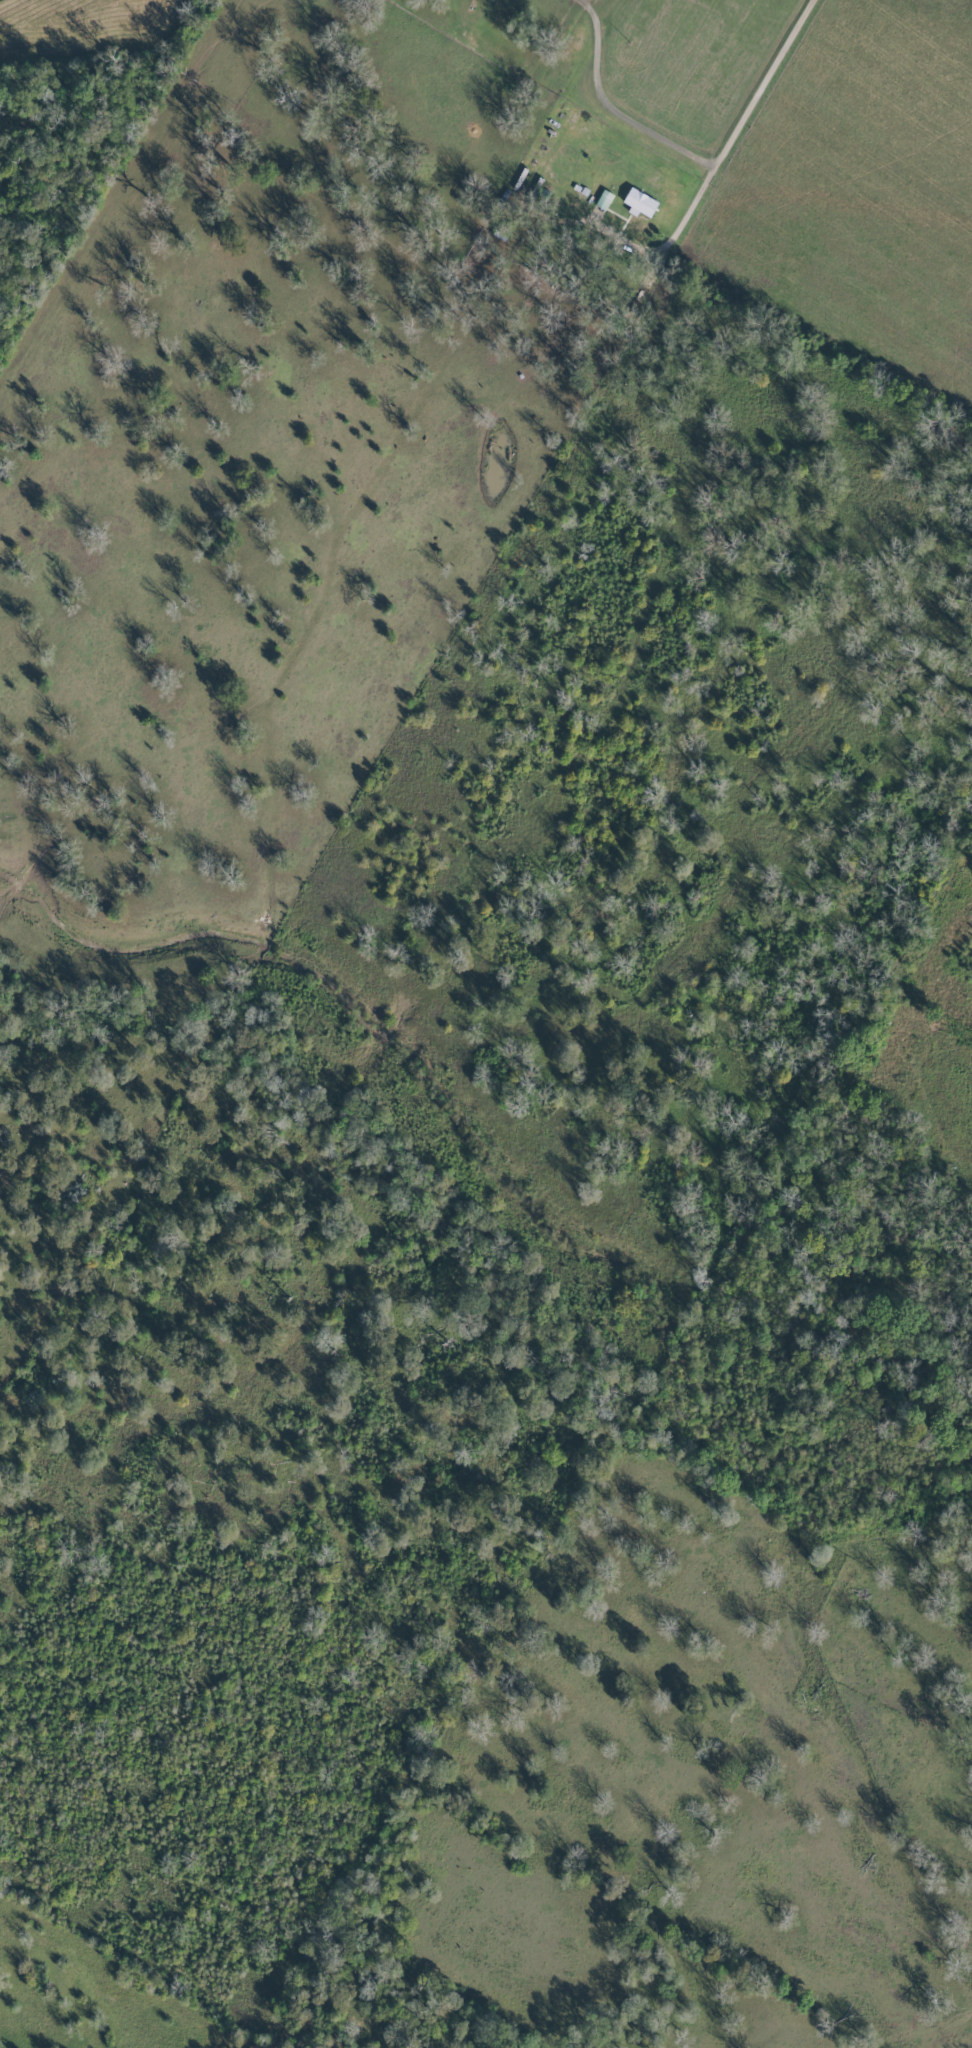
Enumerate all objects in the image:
road: (611, 105)
road: (724, 149)
building: (603, 199)
building: (640, 203)

